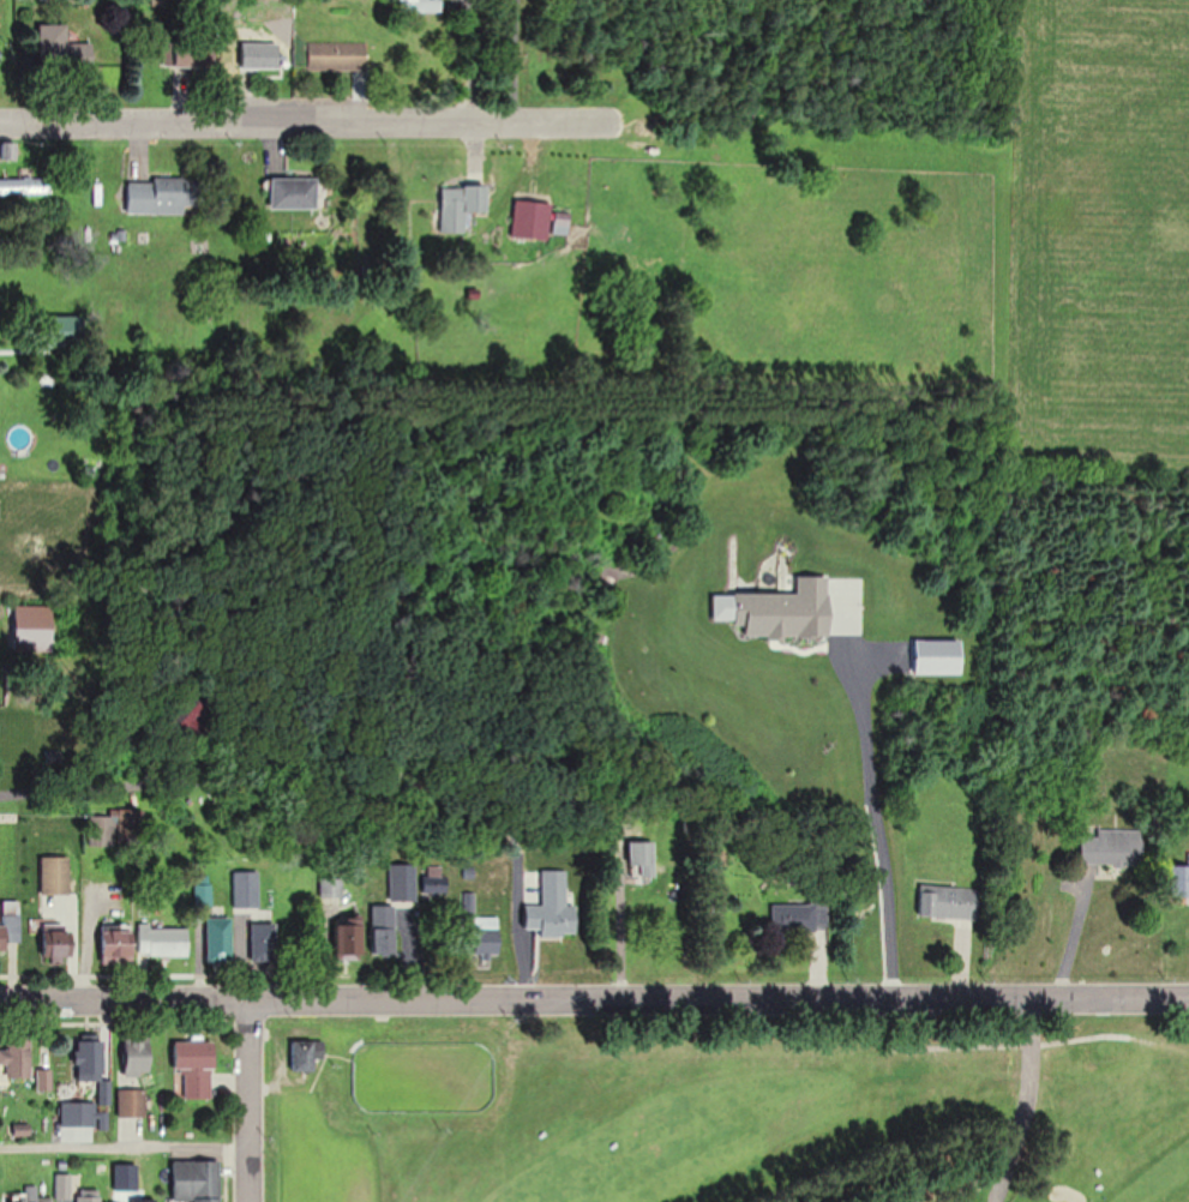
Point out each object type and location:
building: (424, 5)
building: (64, 49)
building: (197, 53)
building: (262, 55)
building: (337, 55)
road: (510, 61)
road: (314, 125)
building: (25, 186)
building: (295, 193)
building: (160, 196)
building: (461, 205)
building: (61, 330)
building: (32, 629)
road: (114, 756)
road: (873, 827)
building: (103, 830)
building: (1112, 848)
building: (641, 859)
building: (56, 876)
building: (402, 882)
building: (434, 882)
building: (1179, 883)
building: (332, 887)
building: (246, 889)
building: (949, 901)
building: (799, 916)
building: (551, 919)
building: (10, 926)
building: (384, 930)
building: (872, 932)
building: (220, 939)
building: (350, 939)
building: (163, 940)
building: (263, 942)
building: (58, 944)
building: (118, 944)
road: (594, 999)
road: (1038, 1041)
building: (305, 1056)
building: (17, 1057)
building: (139, 1057)
building: (92, 1065)
building: (194, 1070)
road: (244, 1100)
building: (132, 1102)
road: (1025, 1104)
park: (729, 1114)
road: (122, 1148)
building: (197, 1180)
building: (65, 1185)
building: (30, 1196)
building: (90, 1196)
building: (144, 1200)

